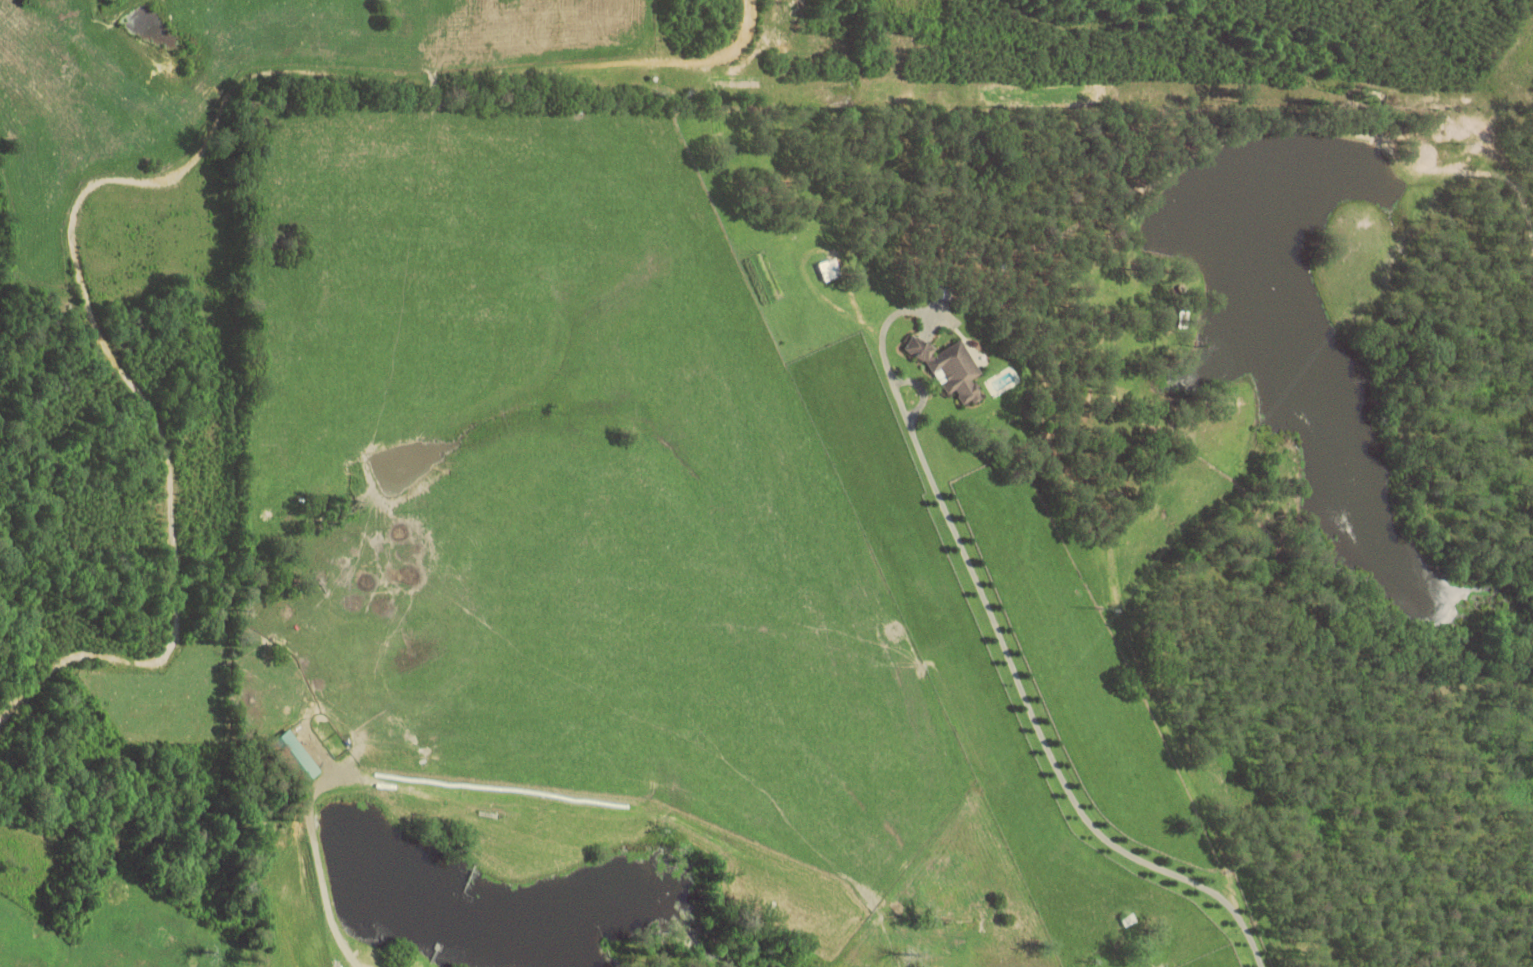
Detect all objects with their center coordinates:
building: (829, 270)
building: (951, 370)
building: (294, 757)

